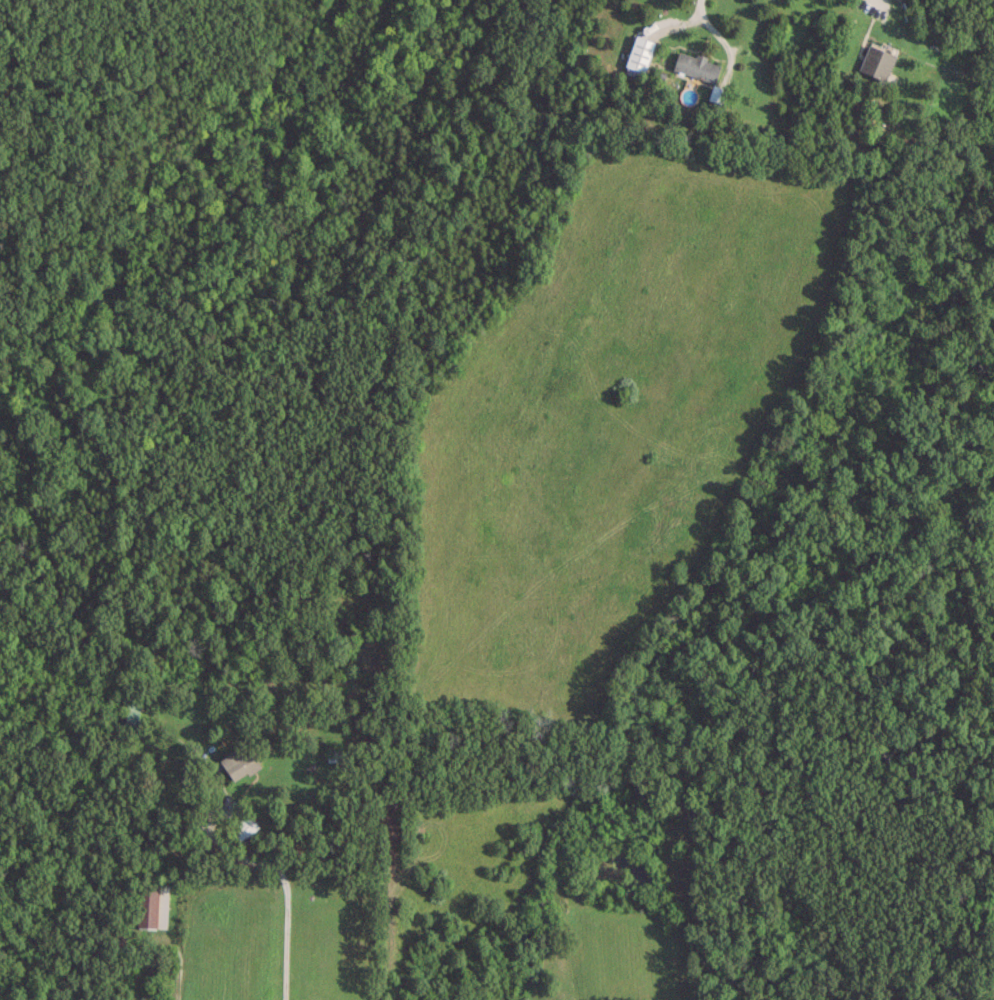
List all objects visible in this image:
road: (716, 35)
building: (638, 52)
building: (876, 61)
building: (695, 65)
building: (131, 717)
building: (333, 752)
building: (239, 762)
road: (283, 891)
building: (151, 904)
road: (176, 976)

